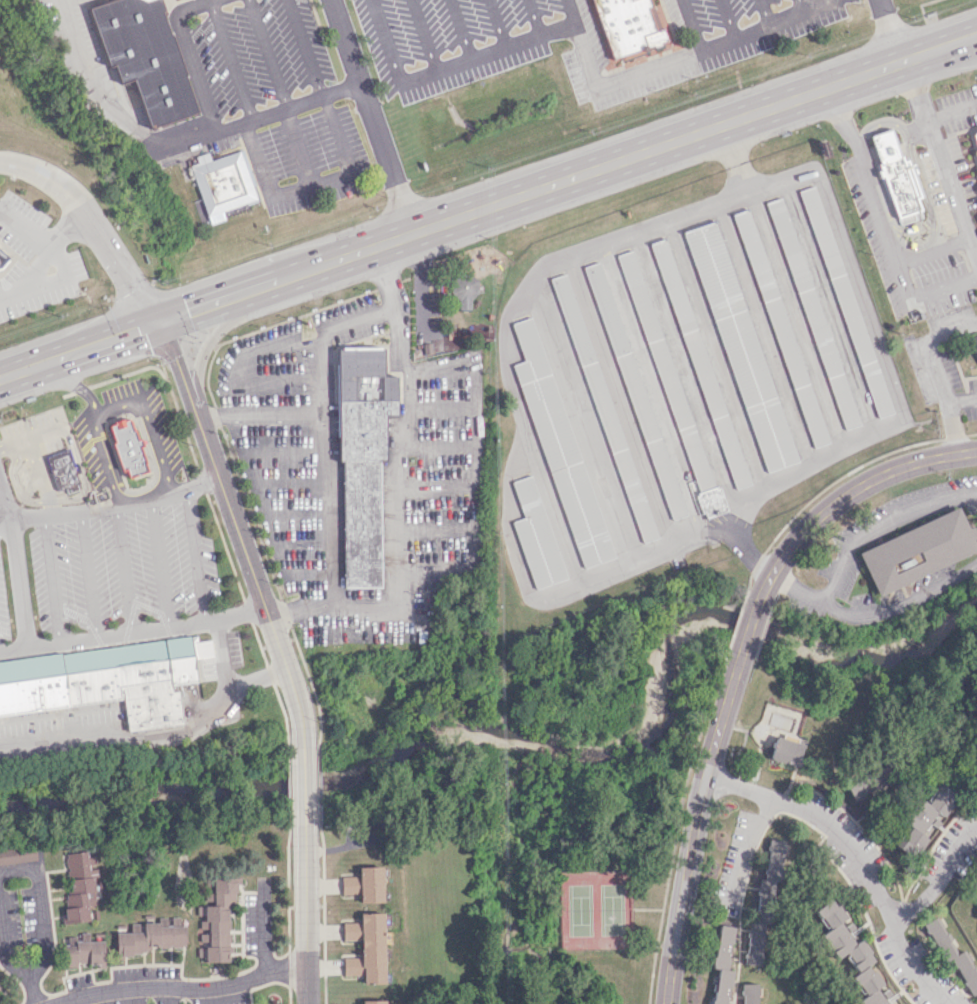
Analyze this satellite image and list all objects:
road: (70, 2)
road: (799, 5)
road: (572, 12)
road: (764, 12)
road: (534, 18)
road: (728, 19)
road: (497, 24)
building: (629, 24)
road: (691, 25)
road: (893, 30)
road: (460, 31)
parking lot: (72, 35)
road: (425, 36)
parking lot: (576, 39)
road: (388, 42)
road: (304, 47)
parking lot: (248, 52)
road: (267, 53)
building: (144, 56)
road: (189, 57)
road: (231, 59)
road: (597, 82)
road: (92, 89)
road: (261, 114)
road: (952, 114)
road: (370, 116)
building: (975, 136)
parking lot: (223, 143)
road: (297, 148)
building: (976, 152)
road: (733, 158)
parking lot: (308, 160)
road: (941, 160)
road: (608, 164)
road: (865, 171)
road: (43, 172)
road: (918, 173)
building: (898, 176)
building: (223, 183)
parking lot: (948, 186)
road: (313, 188)
road: (835, 226)
road: (69, 232)
road: (923, 244)
road: (932, 248)
building: (2, 258)
parking lot: (33, 260)
road: (119, 262)
building: (1, 266)
road: (61, 267)
road: (902, 278)
road: (942, 285)
building: (846, 302)
road: (199, 308)
road: (828, 308)
building: (812, 312)
road: (795, 321)
traffic signals: (160, 322)
building: (780, 328)
road: (765, 336)
road: (291, 341)
building: (974, 341)
road: (206, 346)
road: (87, 347)
building: (741, 347)
road: (930, 347)
road: (717, 363)
road: (176, 364)
building: (700, 365)
building: (665, 371)
road: (128, 372)
road: (7, 374)
road: (63, 378)
road: (267, 378)
road: (650, 387)
road: (80, 389)
building: (635, 390)
road: (67, 393)
road: (621, 399)
road: (115, 404)
road: (437, 406)
building: (604, 408)
road: (950, 413)
road: (221, 415)
road: (584, 415)
road: (291, 416)
road: (179, 417)
parking lot: (146, 420)
road: (388, 421)
road: (360, 423)
road: (970, 433)
road: (953, 436)
road: (32, 437)
building: (140, 442)
parking lot: (35, 444)
road: (434, 445)
building: (127, 448)
building: (559, 449)
road: (281, 450)
building: (361, 454)
road: (333, 466)
road: (474, 466)
parking lot: (357, 467)
road: (154, 468)
building: (62, 470)
road: (40, 476)
road: (202, 482)
road: (394, 483)
road: (291, 485)
road: (434, 486)
road: (820, 491)
road: (843, 496)
road: (57, 500)
building: (711, 501)
road: (112, 508)
road: (297, 517)
road: (879, 526)
road: (435, 530)
building: (536, 536)
road: (224, 546)
building: (917, 549)
road: (305, 552)
road: (194, 554)
road: (160, 562)
parking lot: (122, 566)
road: (123, 569)
road: (15, 570)
road: (87, 574)
road: (53, 579)
road: (255, 581)
road: (309, 583)
road: (581, 583)
parking lot: (3, 610)
road: (246, 610)
road: (875, 612)
road: (738, 613)
road: (132, 630)
road: (746, 634)
road: (731, 637)
building: (106, 679)
road: (223, 683)
parking lot: (57, 733)
road: (125, 736)
building: (786, 749)
road: (686, 775)
road: (303, 781)
building: (867, 782)
building: (923, 819)
road: (693, 830)
road: (746, 848)
building: (17, 854)
road: (851, 858)
road: (940, 879)
building: (79, 883)
building: (364, 884)
road: (305, 902)
building: (763, 905)
road: (40, 909)
park: (594, 909)
road: (645, 909)
building: (216, 921)
road: (264, 926)
building: (150, 936)
building: (366, 947)
road: (738, 950)
building: (83, 951)
road: (6, 952)
building: (850, 952)
road: (653, 956)
building: (955, 959)
building: (723, 965)
road: (185, 990)
road: (32, 992)
building: (749, 993)
building: (897, 1003)

